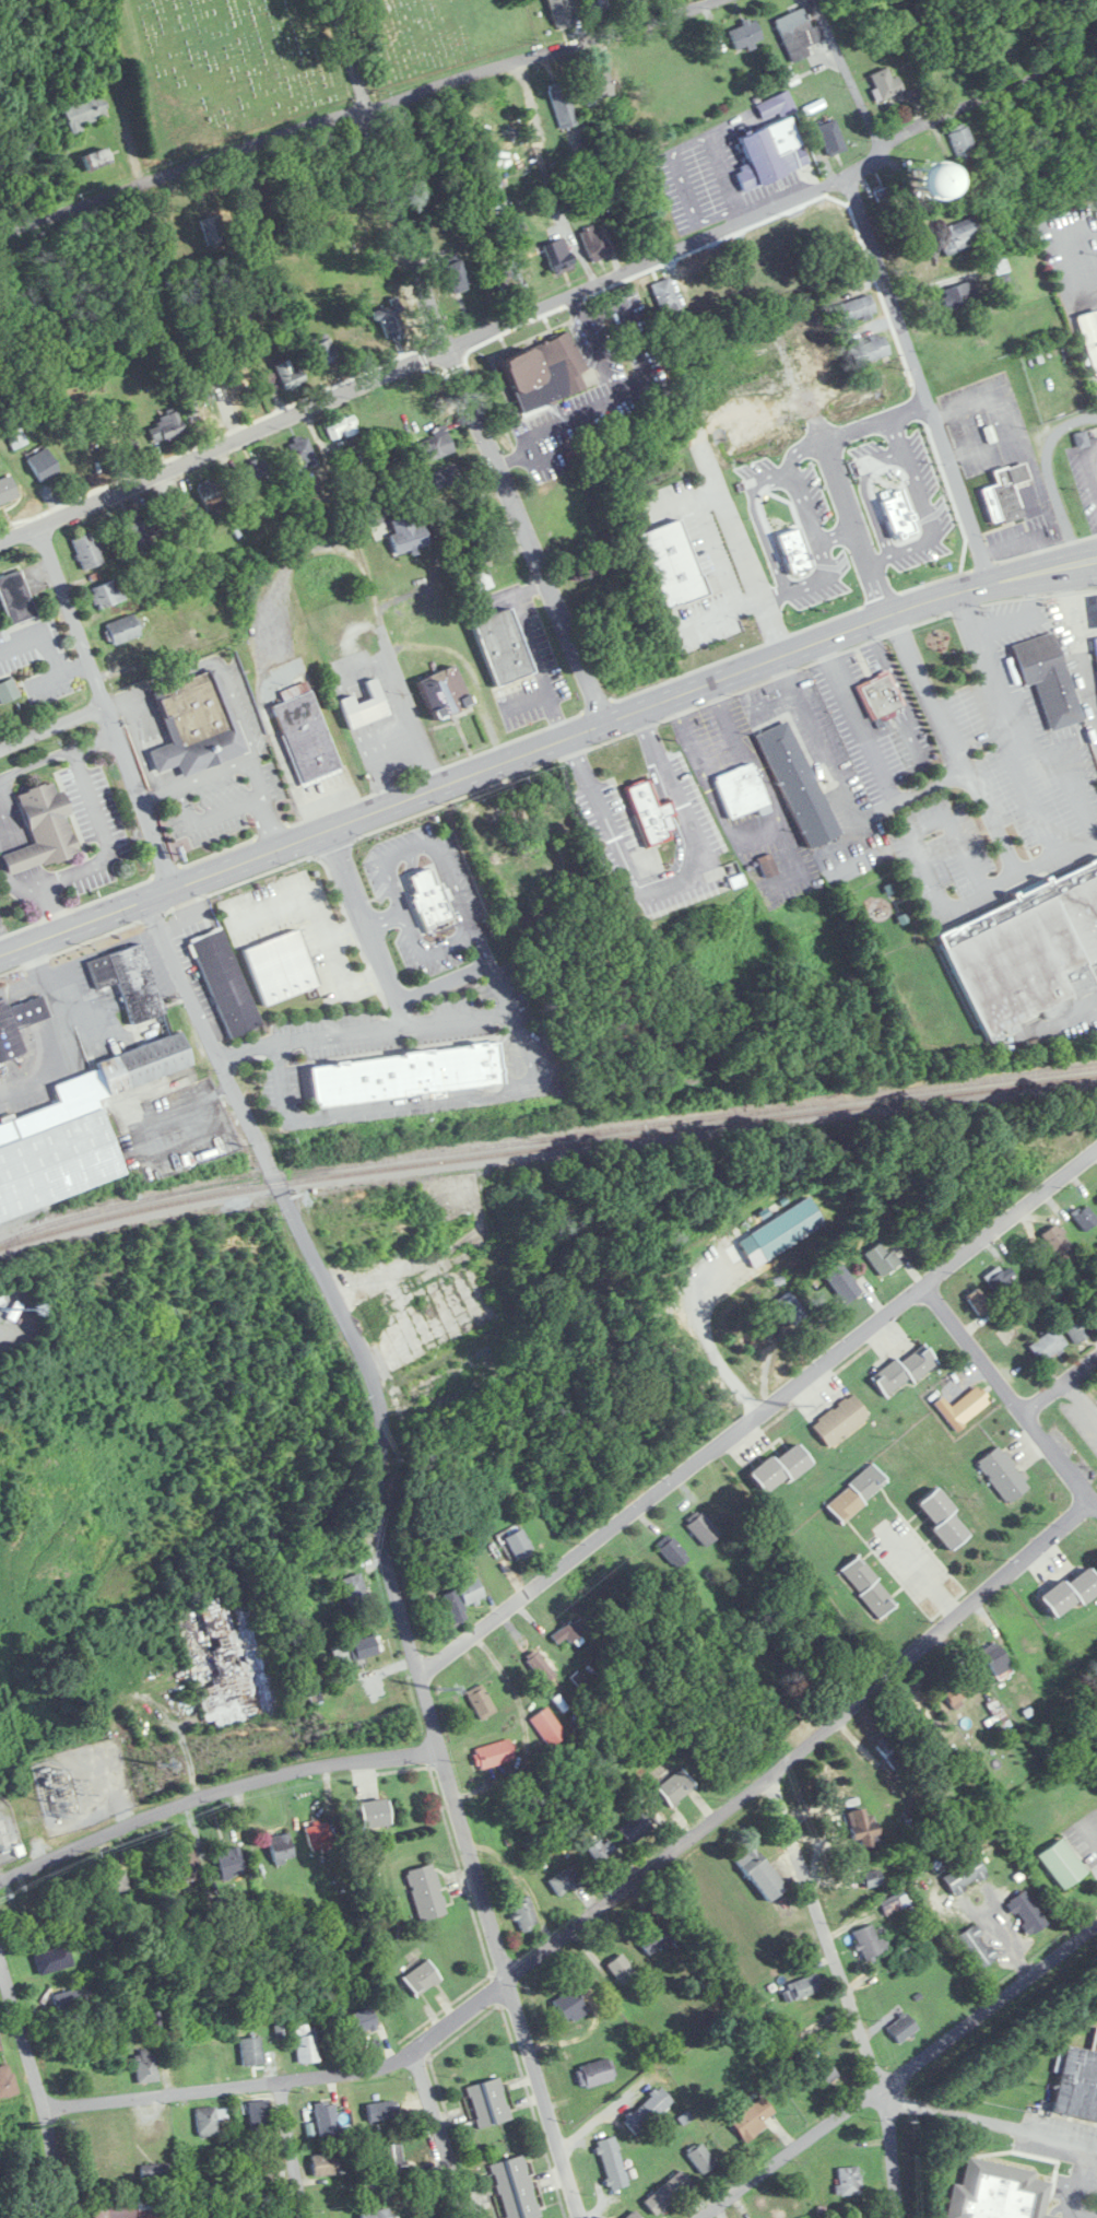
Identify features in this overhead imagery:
building: (632, 1)
building: (598, 8)
building: (559, 12)
building: (746, 34)
building: (798, 34)
building: (1012, 46)
road: (345, 54)
park: (286, 59)
road: (848, 75)
building: (886, 83)
building: (598, 86)
road: (139, 89)
building: (563, 104)
building: (776, 106)
road: (354, 109)
building: (1049, 109)
building: (84, 112)
building: (1003, 125)
building: (831, 137)
building: (963, 143)
building: (770, 153)
building: (95, 156)
building: (934, 181)
building: (886, 200)
building: (214, 231)
building: (960, 235)
building: (594, 243)
building: (559, 256)
road: (1082, 260)
building: (456, 275)
building: (665, 295)
building: (960, 295)
road: (578, 304)
building: (857, 309)
road: (528, 312)
building: (389, 319)
road: (635, 339)
building: (813, 343)
building: (870, 349)
building: (325, 352)
road: (600, 355)
building: (227, 363)
building: (545, 373)
building: (288, 374)
road: (917, 378)
road: (472, 419)
road: (564, 419)
building: (341, 426)
building: (166, 427)
building: (123, 444)
building: (433, 446)
road: (1094, 446)
building: (303, 450)
road: (512, 458)
road: (1094, 458)
building: (44, 465)
building: (256, 472)
road: (1049, 476)
building: (441, 478)
road: (837, 479)
building: (8, 490)
building: (211, 494)
building: (1011, 495)
road: (805, 507)
building: (798, 514)
building: (135, 530)
building: (408, 535)
road: (738, 540)
building: (87, 551)
road: (717, 552)
building: (586, 570)
building: (480, 576)
building: (151, 577)
road: (529, 587)
building: (107, 594)
road: (373, 595)
building: (15, 598)
building: (200, 605)
road: (71, 612)
road: (719, 612)
building: (164, 617)
building: (123, 630)
road: (1085, 632)
building: (1096, 639)
road: (529, 644)
building: (503, 646)
road: (1077, 649)
road: (160, 676)
building: (1049, 678)
building: (8, 691)
road: (924, 691)
building: (445, 693)
building: (880, 696)
road: (526, 701)
road: (772, 701)
road: (237, 705)
building: (365, 707)
road: (555, 715)
road: (860, 720)
road: (52, 721)
road: (1015, 721)
building: (197, 725)
building: (306, 732)
road: (818, 738)
road: (95, 741)
road: (544, 744)
road: (36, 761)
road: (213, 770)
building: (795, 787)
road: (157, 791)
road: (140, 793)
building: (740, 793)
road: (911, 794)
road: (262, 801)
building: (649, 817)
road: (7, 825)
building: (43, 830)
road: (105, 835)
road: (19, 856)
road: (1008, 857)
road: (386, 859)
building: (768, 865)
road: (34, 876)
road: (669, 879)
building: (428, 899)
road: (311, 902)
road: (54, 907)
road: (386, 919)
road: (480, 948)
building: (1023, 950)
building: (281, 966)
building: (130, 982)
building: (225, 982)
road: (441, 982)
road: (343, 983)
road: (499, 986)
road: (55, 1001)
road: (400, 1012)
building: (17, 1024)
building: (405, 1075)
building: (557, 1087)
road: (470, 1098)
building: (76, 1130)
railway: (544, 1137)
railway: (545, 1148)
building: (1037, 1153)
building: (1086, 1218)
building: (377, 1222)
building: (787, 1228)
building: (1059, 1243)
building: (882, 1257)
building: (1000, 1281)
building: (462, 1300)
building: (1093, 1300)
building: (979, 1301)
building: (792, 1308)
building: (1074, 1323)
road: (705, 1330)
building: (1048, 1345)
building: (0, 1349)
building: (905, 1370)
building: (457, 1383)
road: (1061, 1386)
road: (1011, 1395)
road: (1082, 1400)
building: (963, 1407)
road: (757, 1412)
building: (840, 1419)
building: (780, 1468)
building: (1003, 1475)
building: (857, 1493)
road: (1096, 1506)
building: (944, 1518)
building: (703, 1529)
road: (388, 1544)
building: (520, 1545)
building: (674, 1552)
road: (921, 1574)
building: (869, 1586)
building: (355, 1589)
building: (1071, 1593)
building: (463, 1596)
building: (570, 1630)
road: (701, 1642)
building: (355, 1650)
building: (231, 1653)
building: (996, 1658)
building: (540, 1667)
building: (959, 1689)
building: (481, 1701)
building: (548, 1727)
building: (893, 1750)
building: (494, 1753)
power substation: (83, 1783)
building: (676, 1786)
road: (213, 1794)
building: (375, 1812)
building: (636, 1828)
building: (864, 1829)
road: (1089, 1829)
building: (318, 1832)
power substation: (9, 1834)
building: (282, 1847)
building: (601, 1850)
building: (229, 1861)
building: (1063, 1863)
building: (188, 1865)
building: (760, 1874)
building: (965, 1875)
building: (872, 1877)
building: (115, 1881)
building: (563, 1882)
building: (426, 1891)
road: (610, 1902)
building: (895, 1902)
building: (1027, 1912)
building: (524, 1914)
building: (653, 1939)
building: (869, 1943)
building: (977, 1947)
building: (909, 1950)
building: (54, 1959)
building: (622, 1969)
building: (422, 1978)
building: (802, 1987)
road: (848, 1991)
building: (69, 2003)
building: (570, 2006)
building: (361, 2021)
building: (280, 2023)
building: (903, 2027)
building: (306, 2043)
building: (0, 2049)
building: (251, 2051)
building: (145, 2066)
building: (822, 2070)
building: (595, 2073)
road: (900, 2074)
building: (7, 2081)
building: (1077, 2082)
road: (36, 2089)
building: (488, 2102)
building: (382, 2110)
building: (648, 2110)
building: (259, 2114)
building: (750, 2116)
building: (327, 2117)
building: (210, 2120)
road: (988, 2120)
road: (444, 2136)
road: (295, 2151)
building: (392, 2157)
building: (701, 2158)
building: (612, 2162)
building: (325, 2164)
building: (154, 2171)
building: (268, 2171)
building: (849, 2181)
road: (1084, 2184)
building: (515, 2187)
building: (669, 2192)
building: (999, 2192)
road: (1069, 2204)
building: (125, 2209)
building: (379, 2214)
building: (428, 2214)

